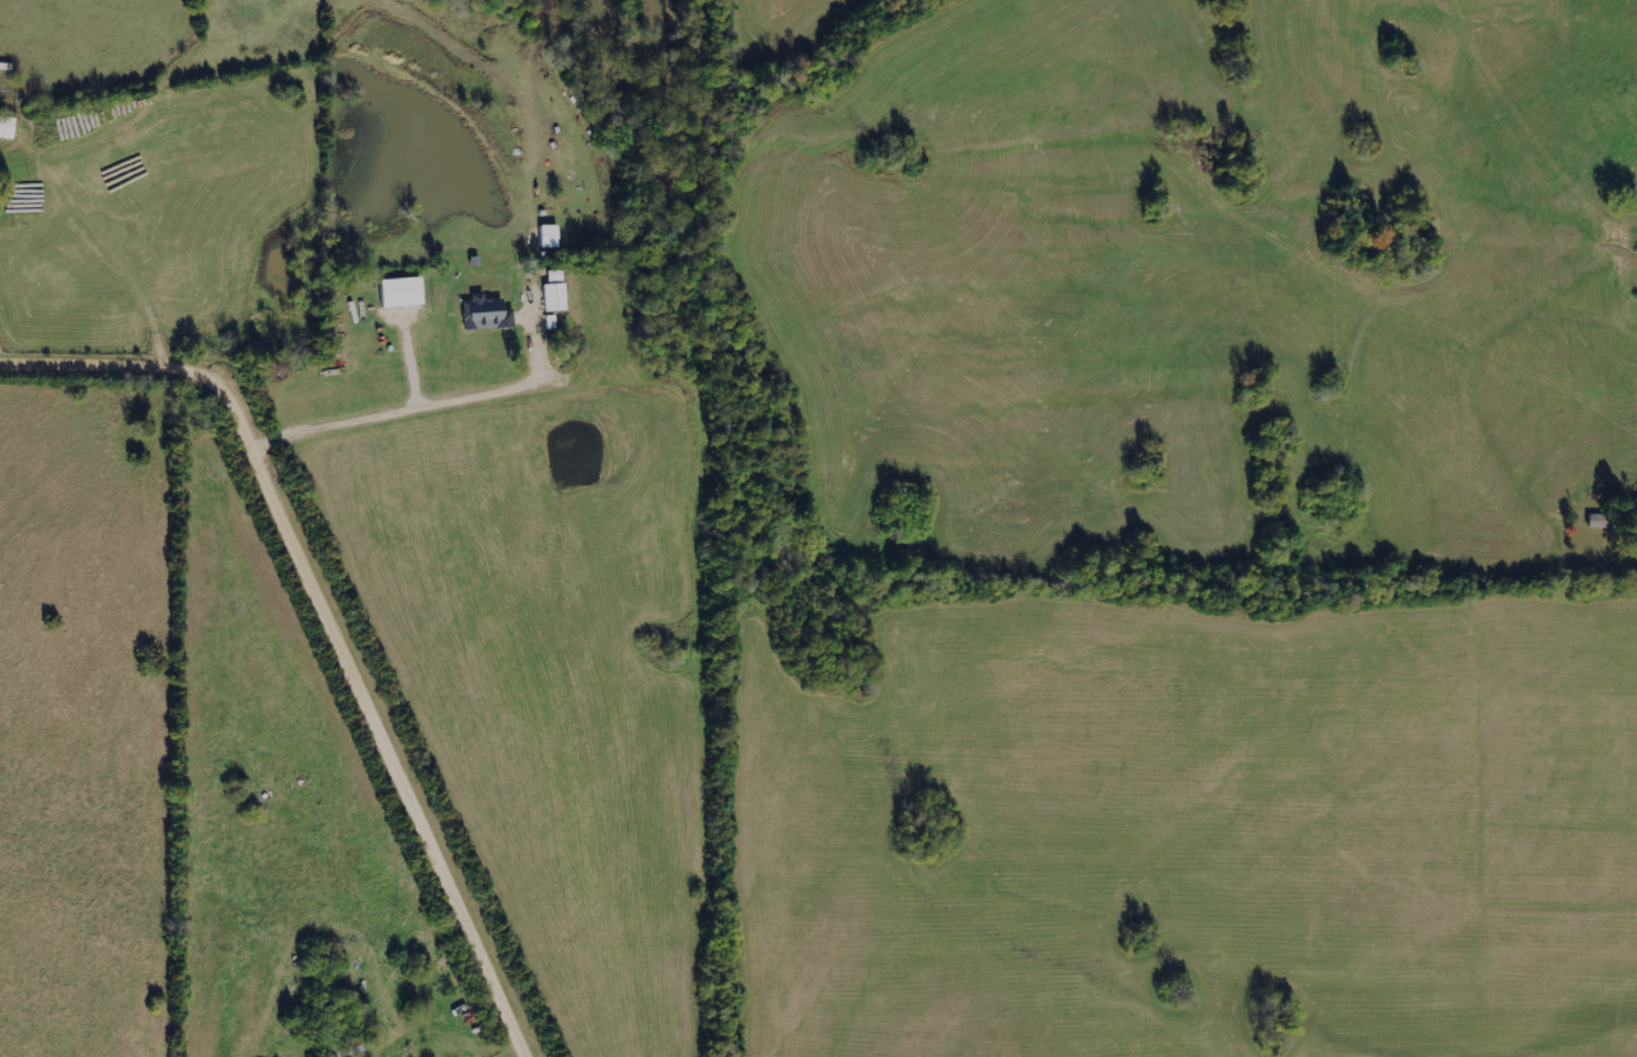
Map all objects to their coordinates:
building: (7, 127)
building: (549, 236)
building: (555, 275)
building: (400, 293)
building: (554, 296)
building: (486, 315)
road: (418, 405)
building: (1596, 521)
road: (335, 611)

